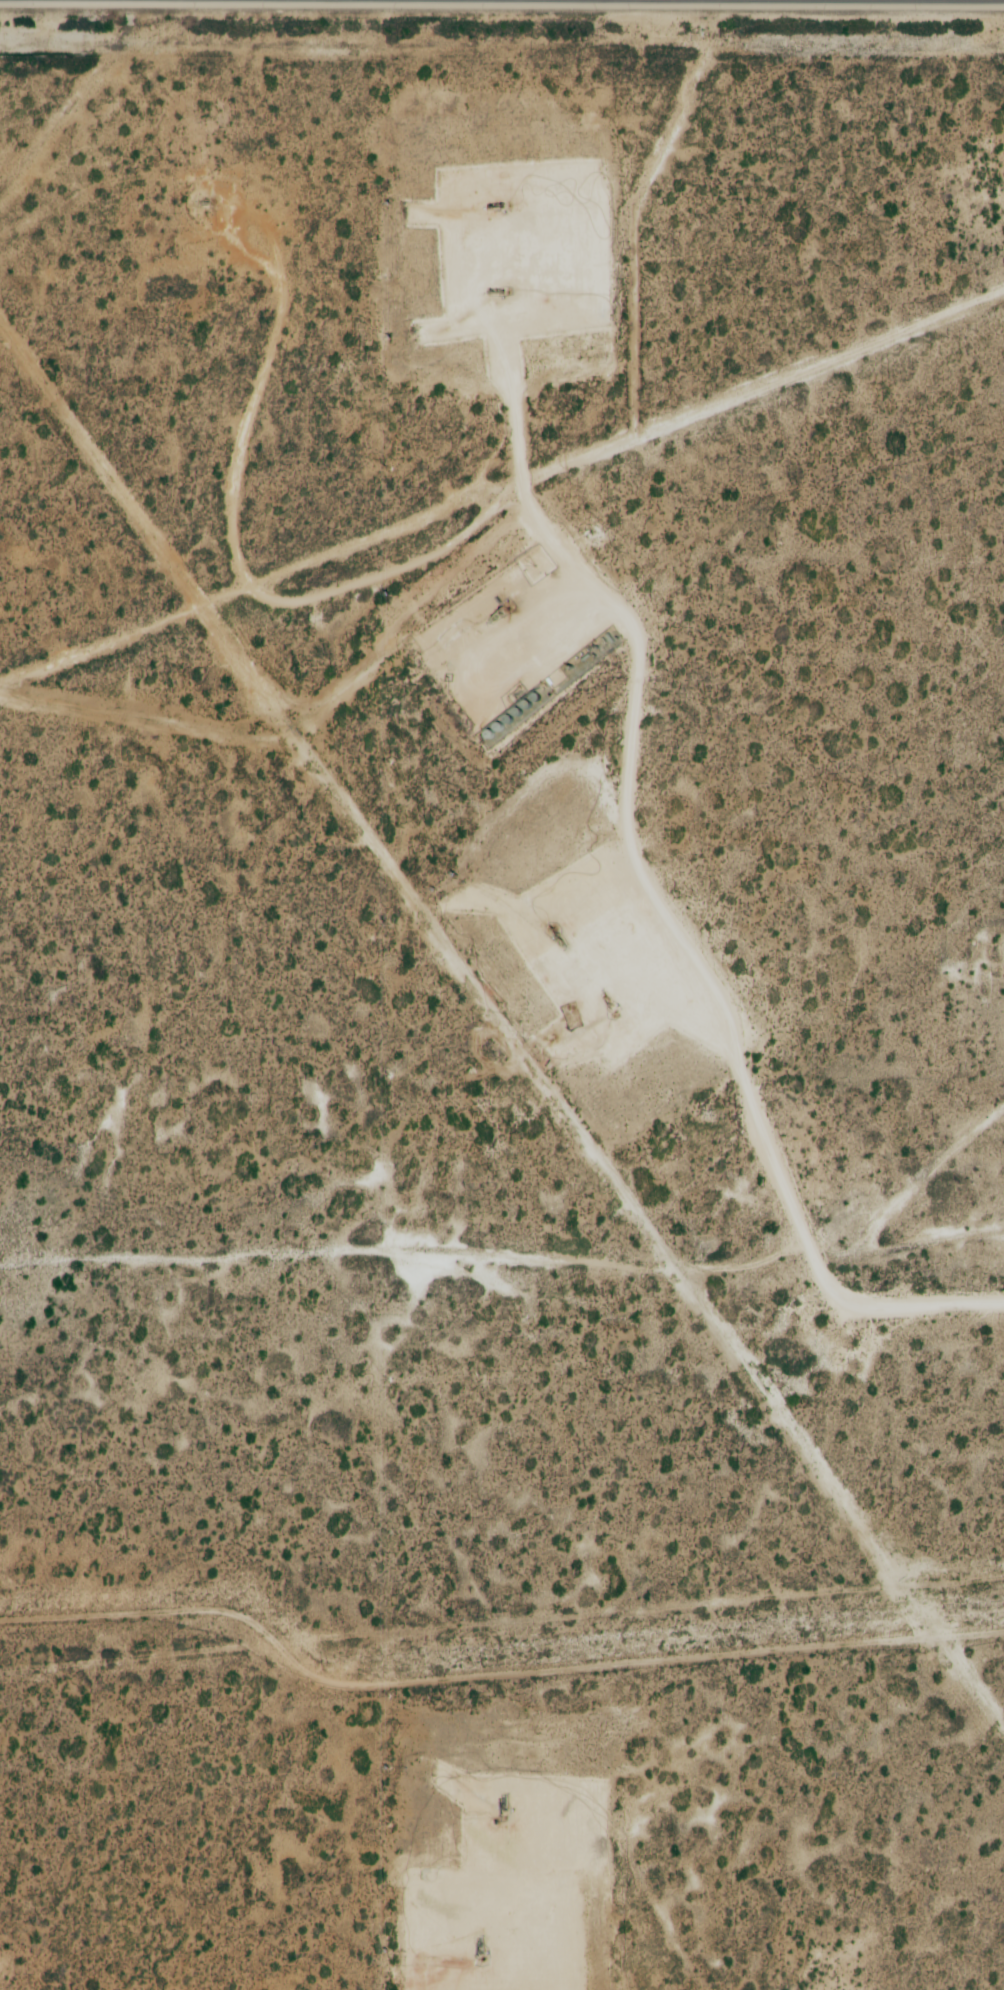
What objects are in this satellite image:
road: (982, 0)
road: (506, 511)
road: (662, 1965)

